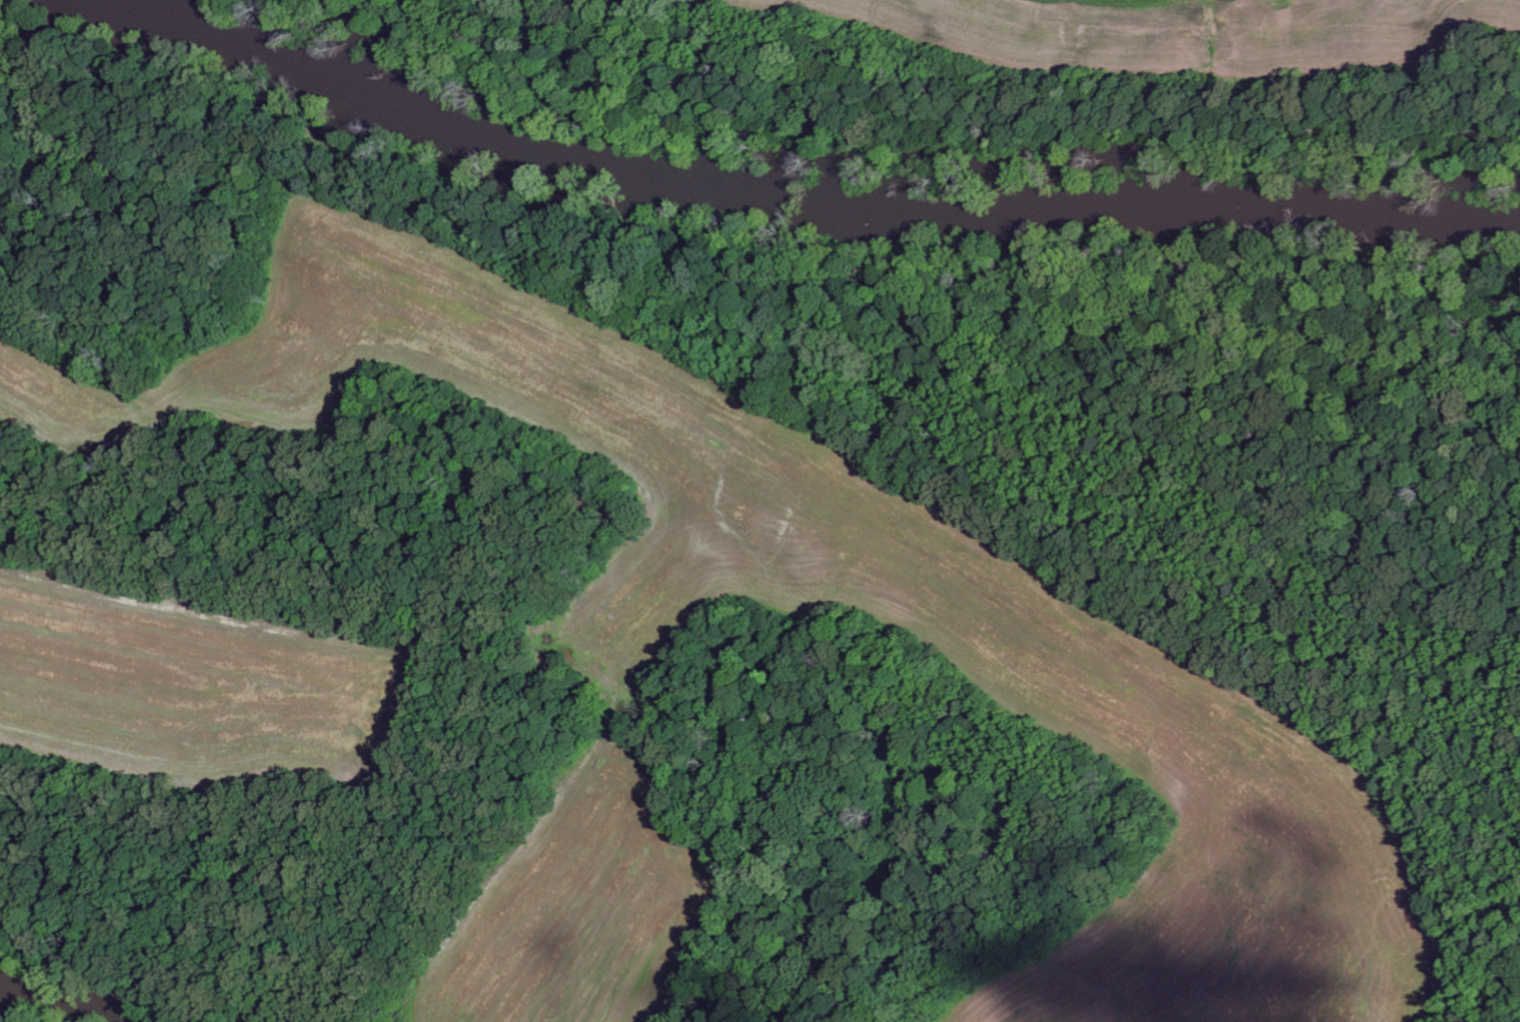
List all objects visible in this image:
river: (805, 194)
river: (68, 999)

